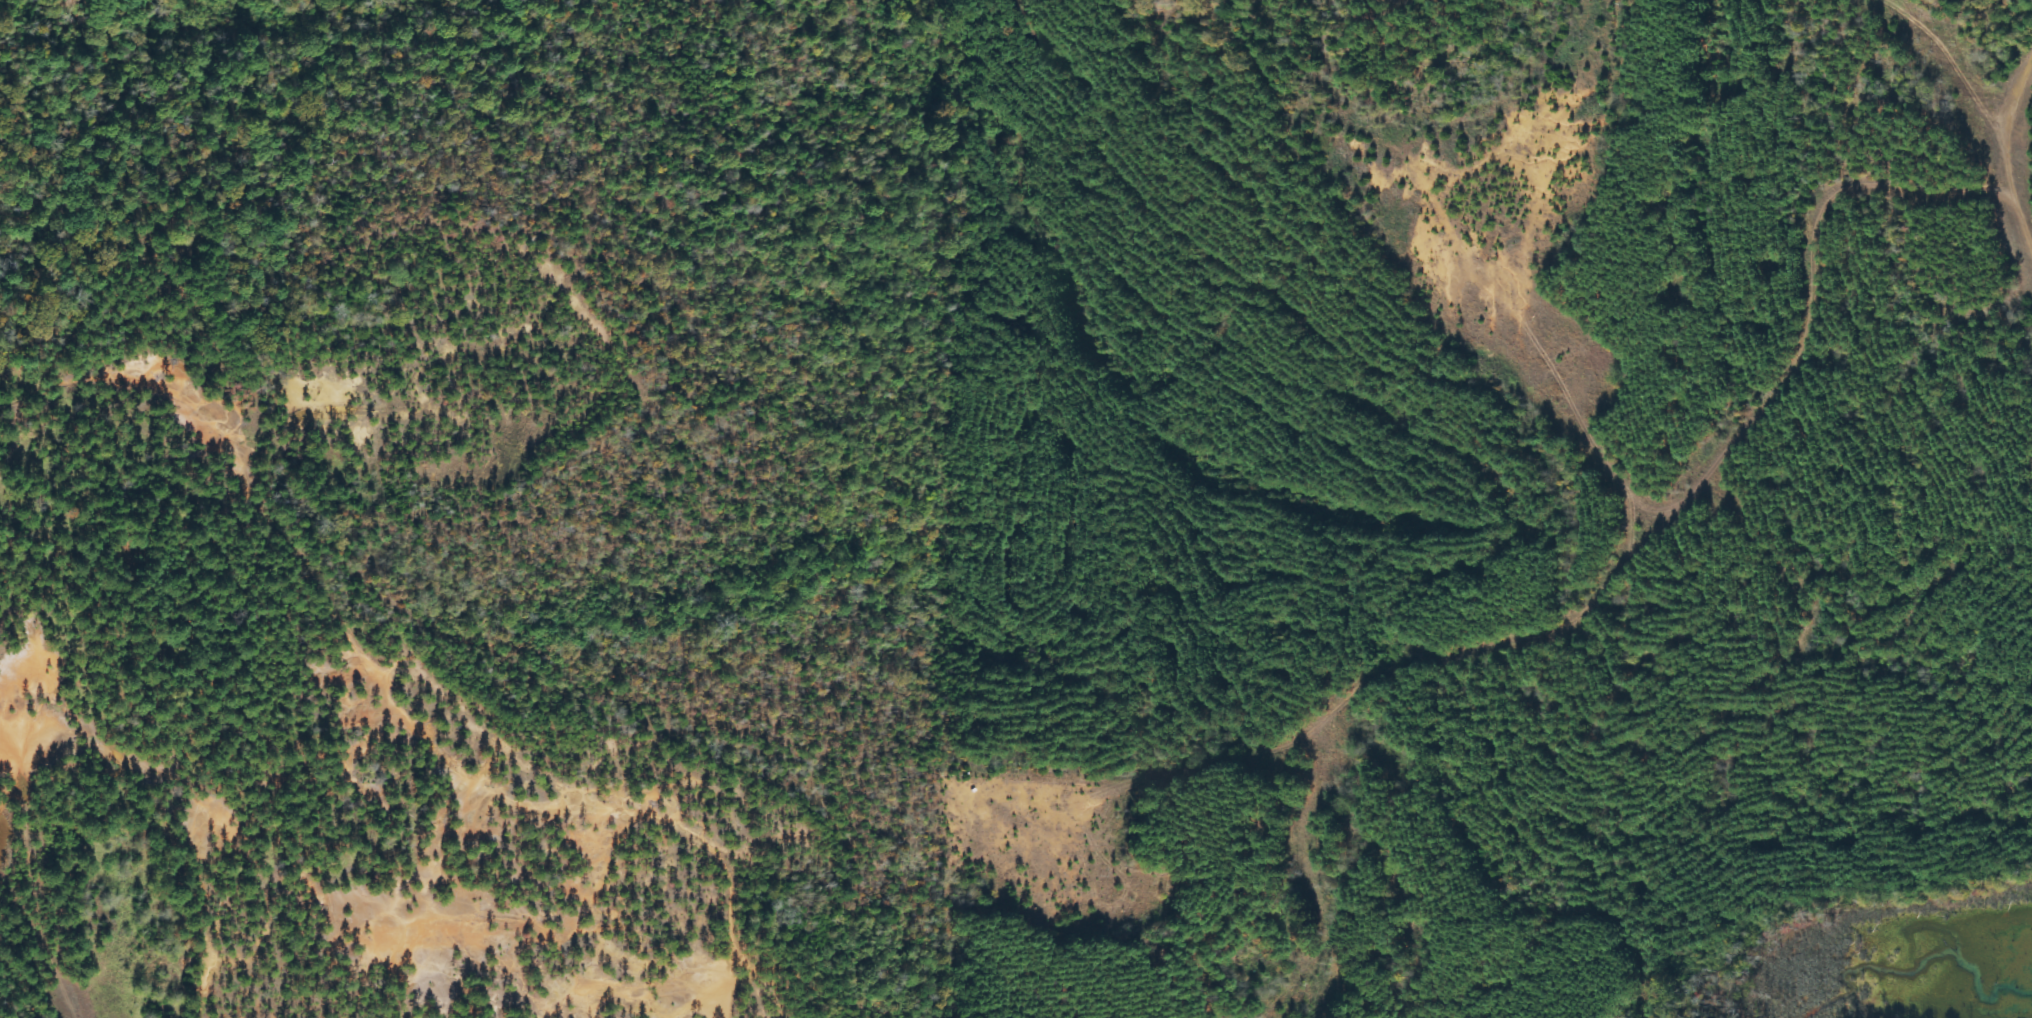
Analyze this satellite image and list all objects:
road: (33, 421)

